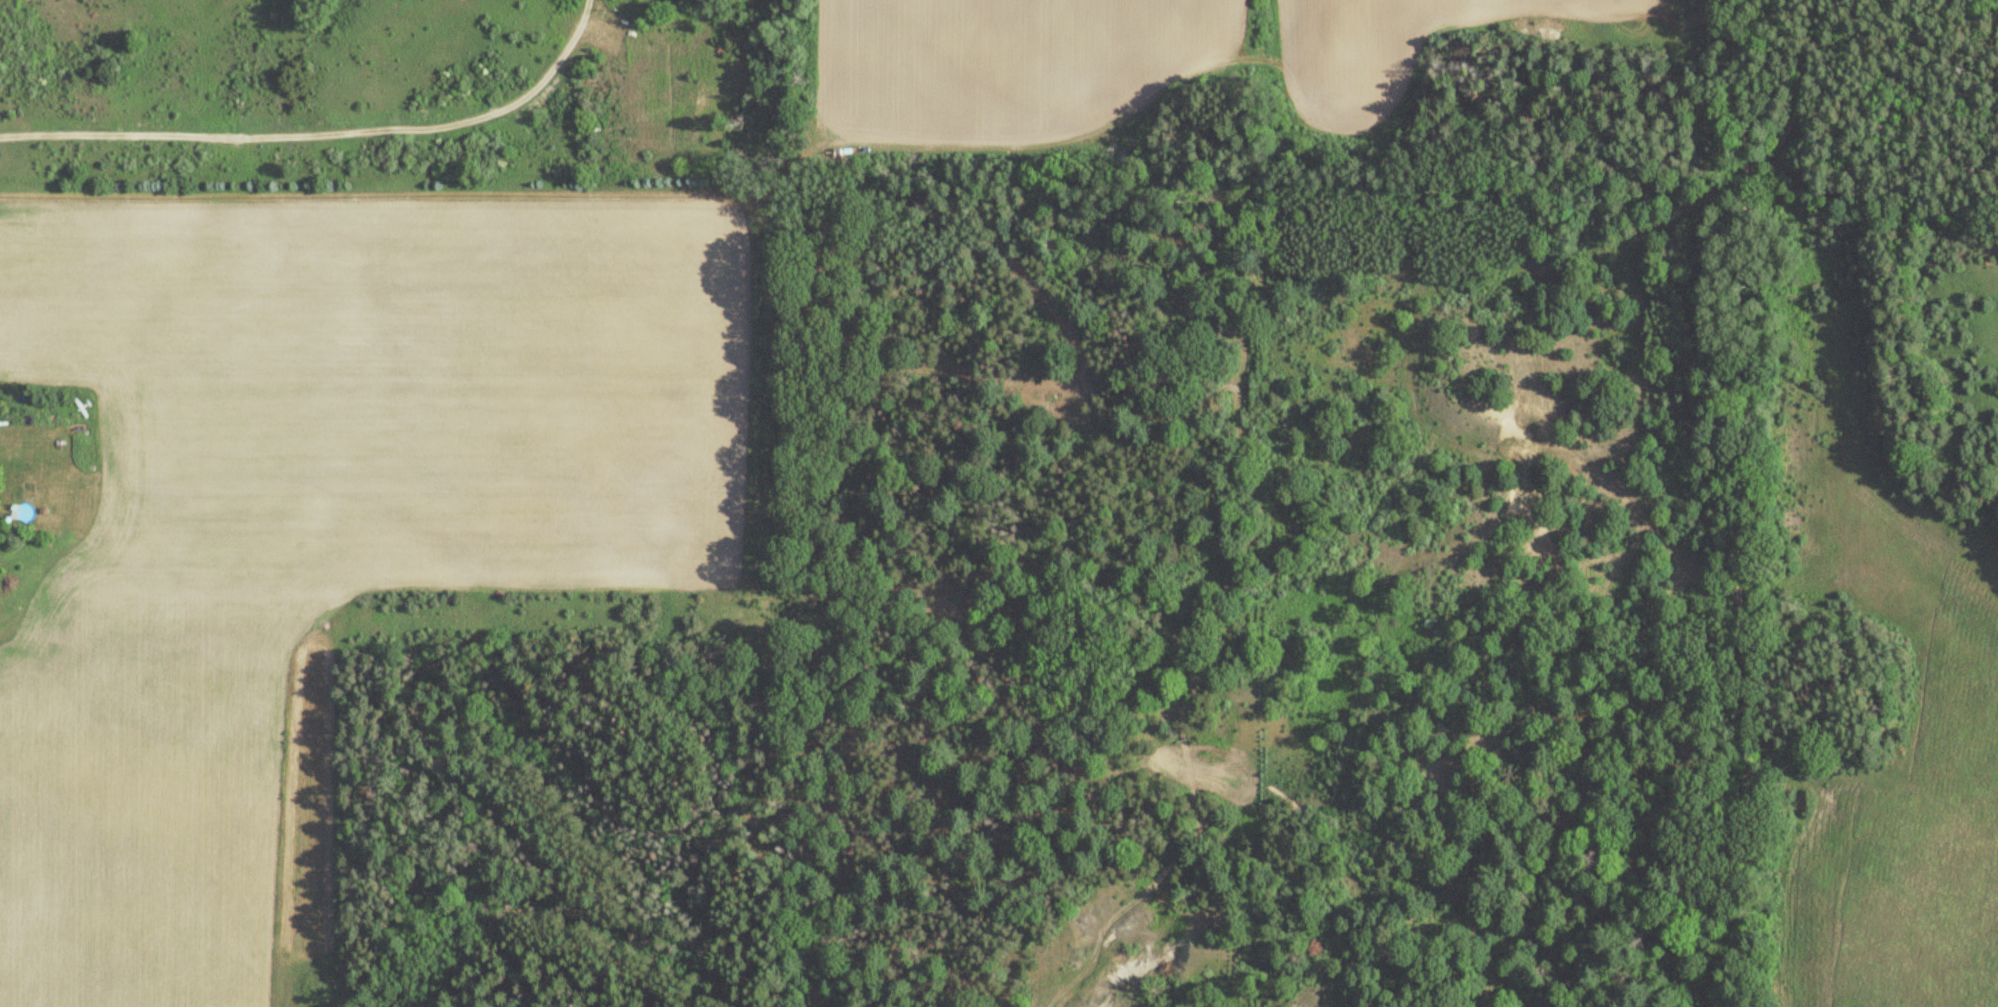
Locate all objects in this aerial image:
road: (1793, 94)
road: (326, 132)
road: (1738, 503)

